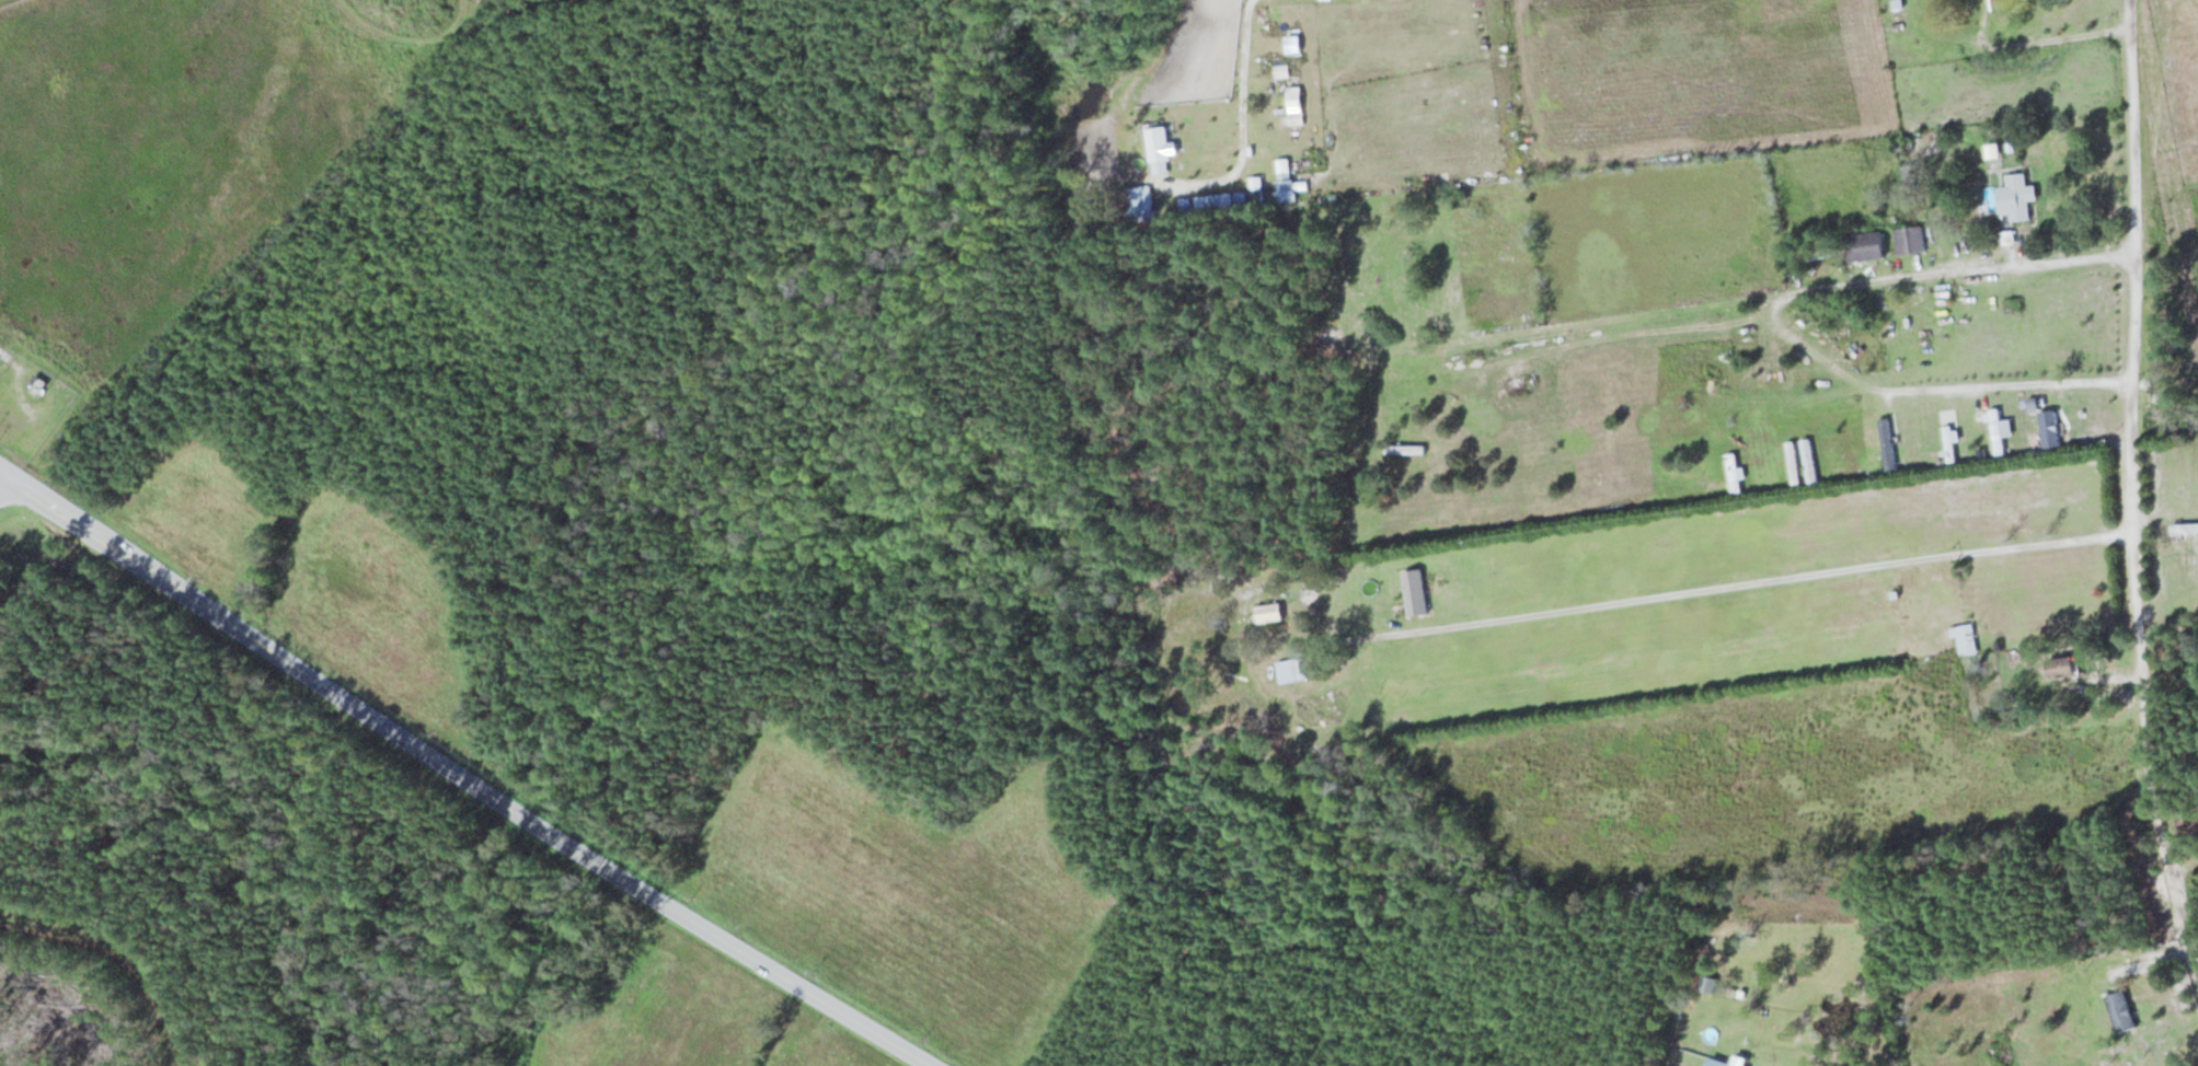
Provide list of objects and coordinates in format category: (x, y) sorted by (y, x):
road: (384, 37)
crop: (1194, 51)
building: (1287, 70)
crop: (1690, 77)
crop: (1409, 94)
building: (1293, 99)
road: (1241, 121)
crop: (1114, 144)
building: (1159, 148)
building: (1285, 187)
building: (2016, 195)
building: (1212, 202)
building: (1131, 205)
building: (1184, 205)
building: (1909, 240)
building: (1864, 245)
building: (1816, 253)
road: (1749, 299)
building: (1764, 373)
road: (2007, 386)
building: (2049, 428)
building: (1995, 431)
building: (1887, 443)
building: (1948, 443)
building: (1404, 449)
building: (1793, 462)
building: (1733, 472)
road: (4, 480)
crop: (2168, 485)
road: (2131, 487)
crop: (194, 512)
building: (2194, 558)
road: (1736, 583)
building: (1414, 592)
crop: (372, 607)
road: (2167, 607)
building: (1268, 612)
building: (1964, 638)
building: (1296, 668)
building: (2059, 668)
road: (2106, 681)
building: (2060, 688)
crop: (1761, 773)
road: (460, 777)
crop: (902, 893)
road: (122, 952)
road: (2152, 962)
building: (1706, 983)
crop: (1757, 986)
building: (1730, 992)
building: (2120, 1010)
crop: (690, 1018)
building: (1726, 1062)
road: (1773, 1065)

